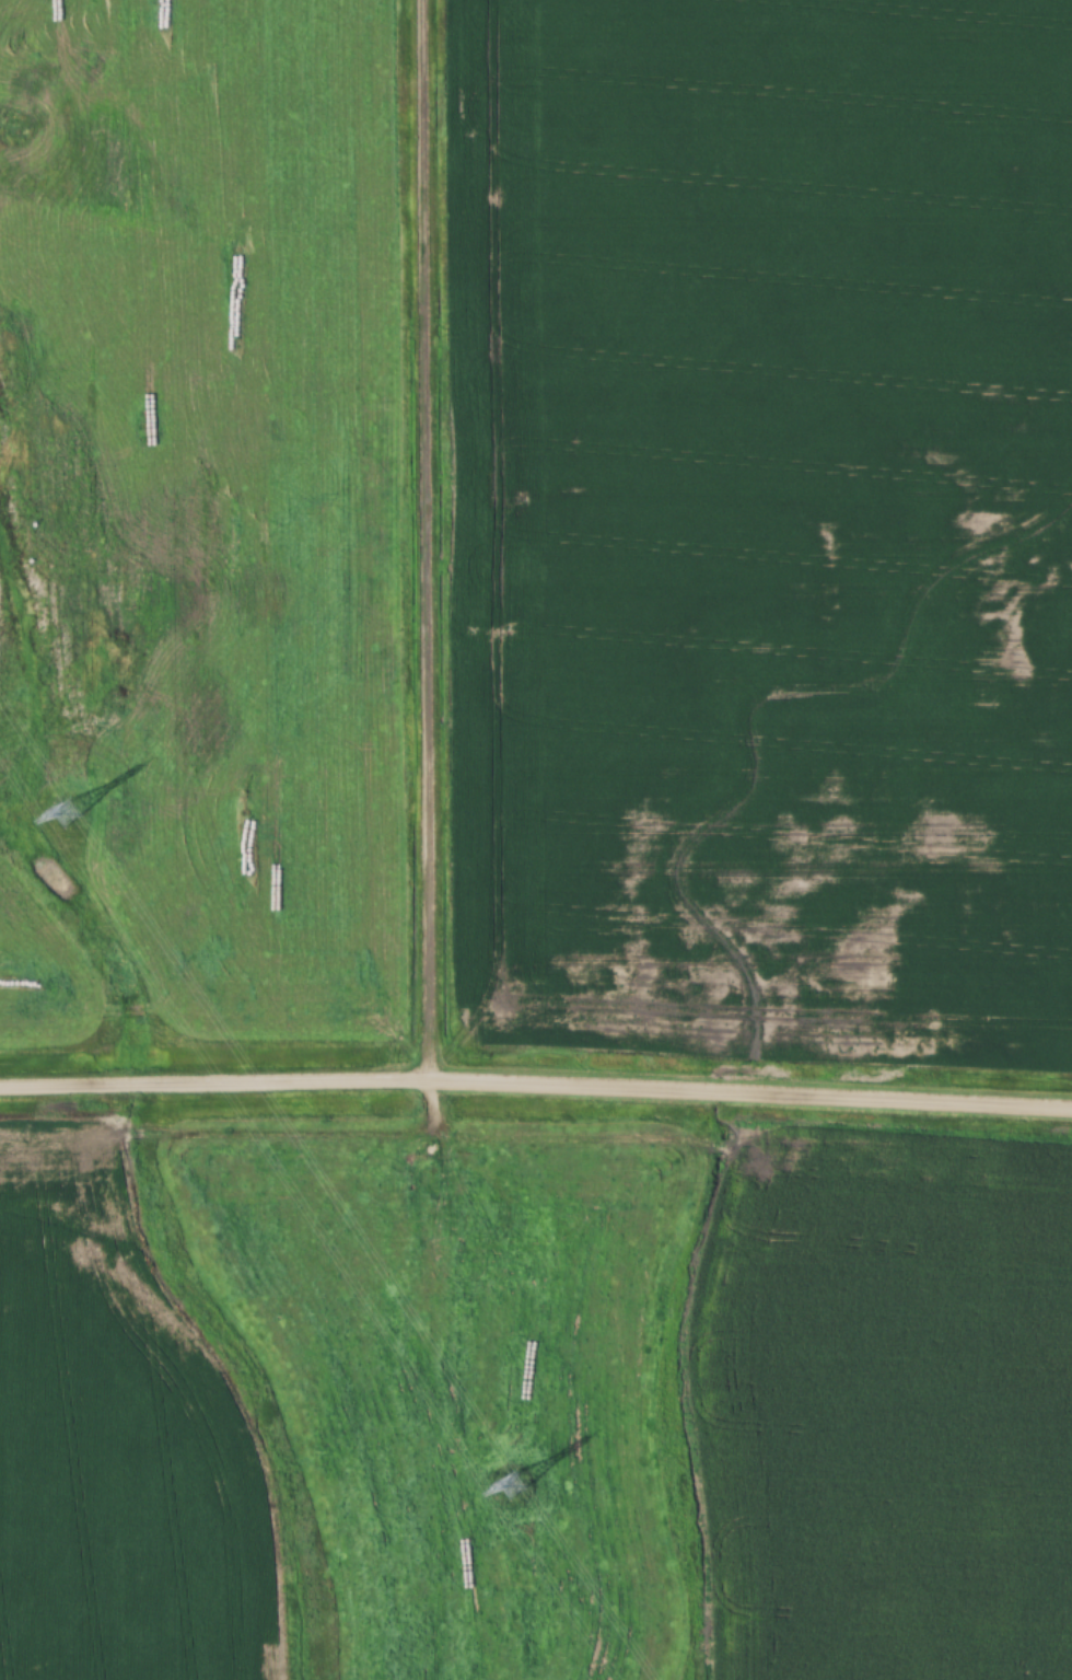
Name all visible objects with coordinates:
power tower: (65, 813)
road: (428, 839)
road: (536, 1082)
power tower: (511, 1484)

